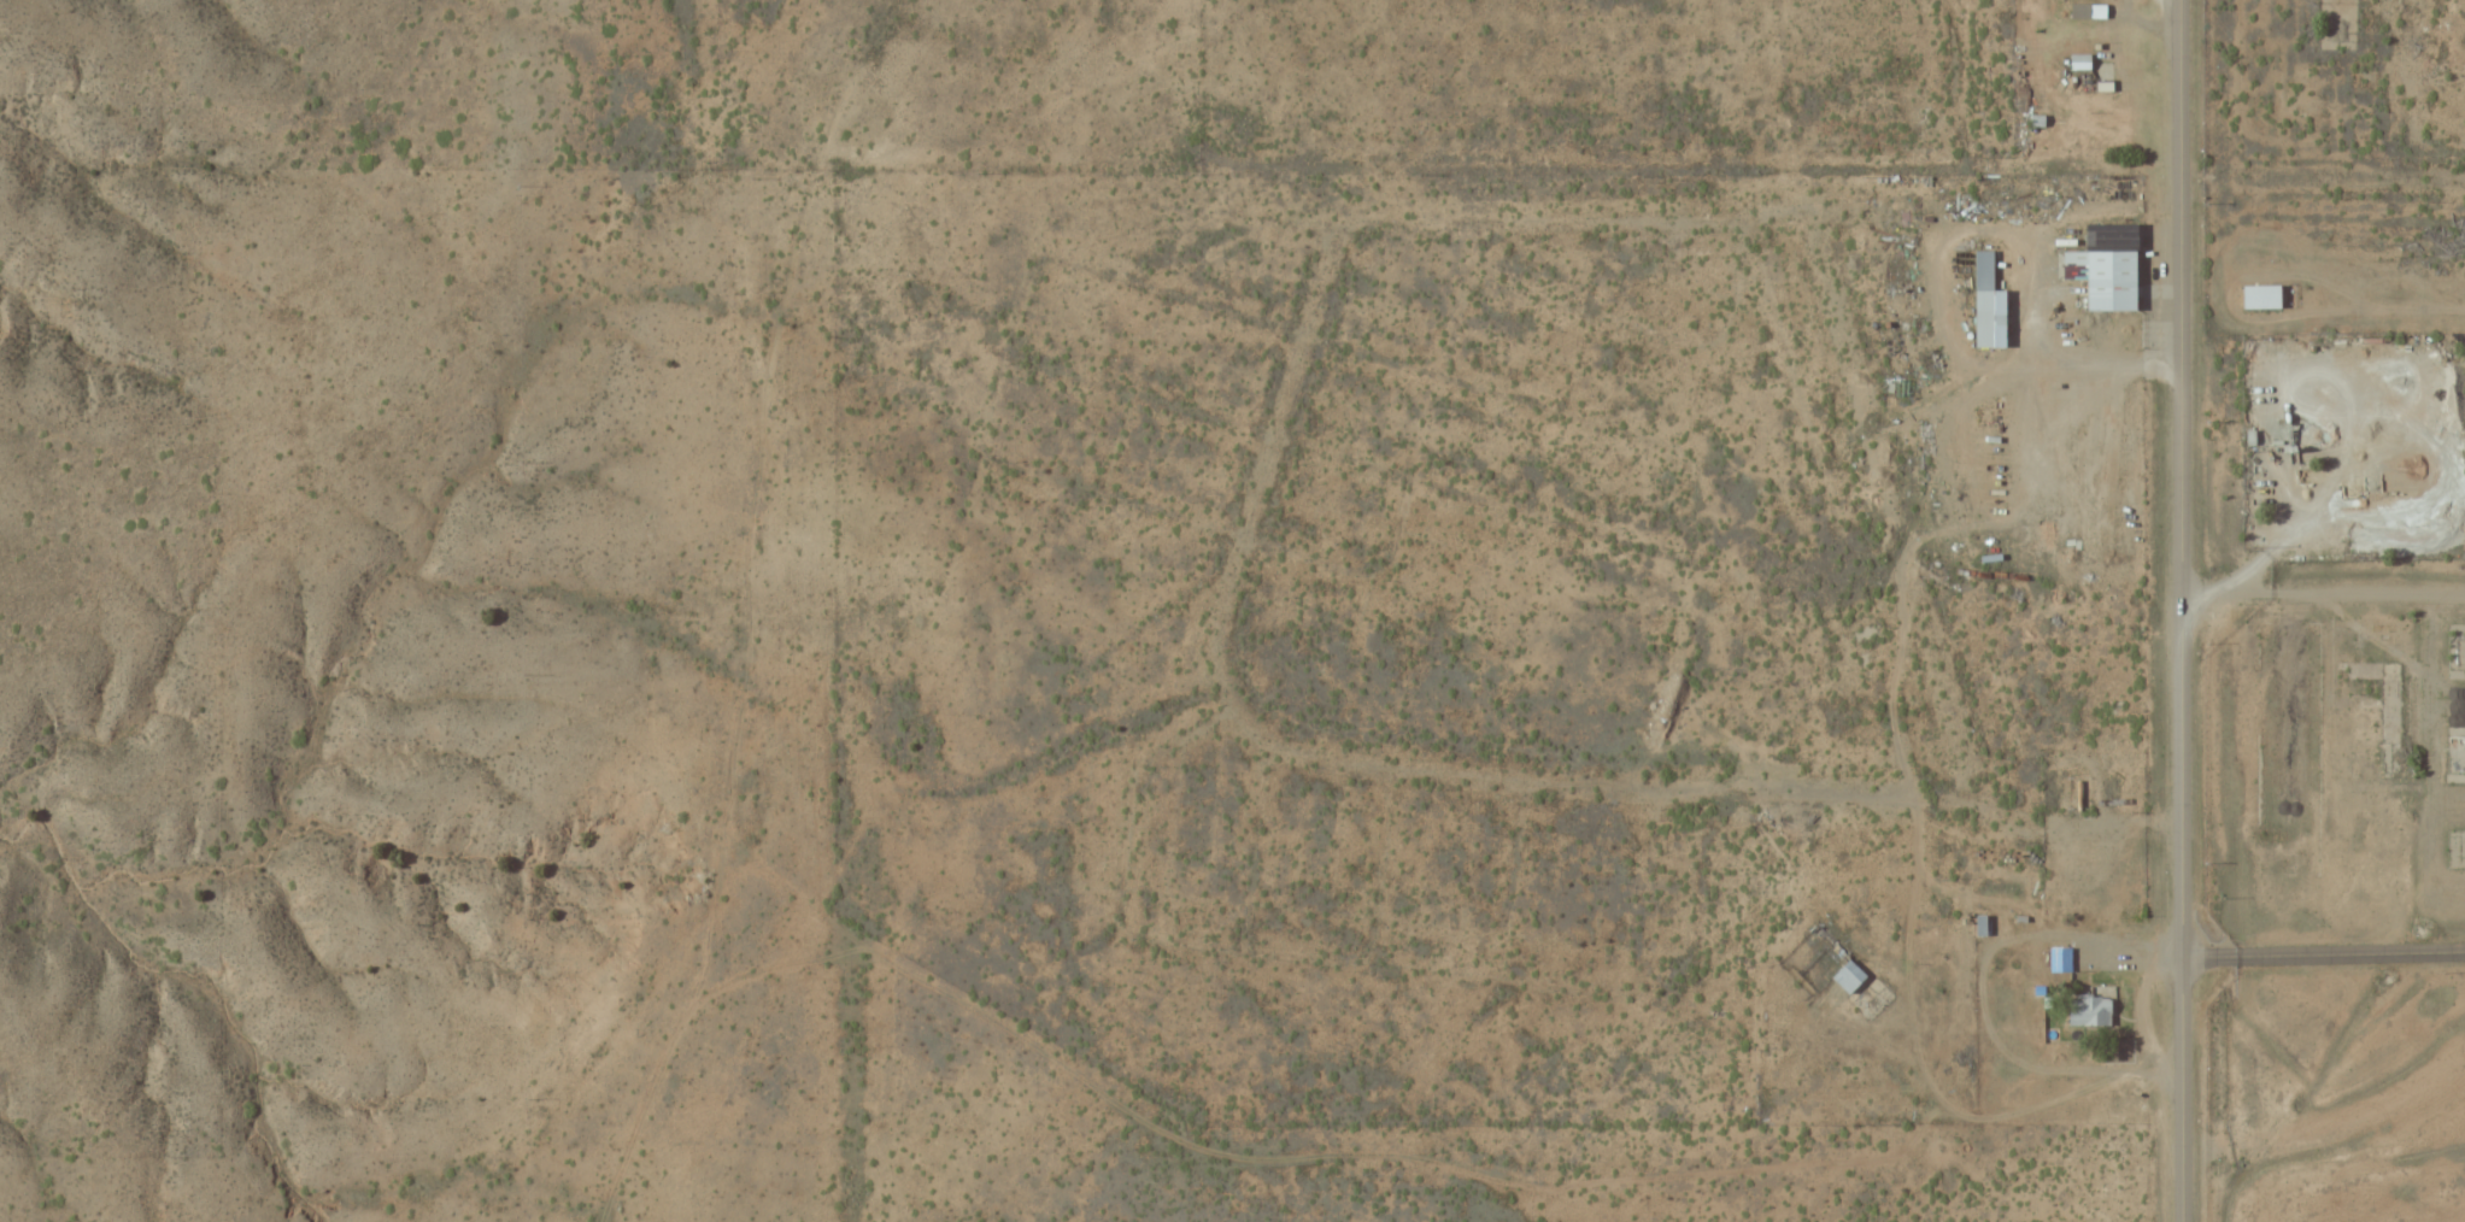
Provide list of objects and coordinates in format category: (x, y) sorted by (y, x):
building: (2078, 10)
building: (2077, 60)
road: (2322, 170)
building: (2102, 265)
building: (2258, 296)
building: (1984, 301)
road: (2323, 594)
road: (2181, 610)
building: (2457, 751)
building: (1978, 923)
road: (2323, 952)
building: (2058, 957)
building: (1847, 974)
building: (2088, 1009)

